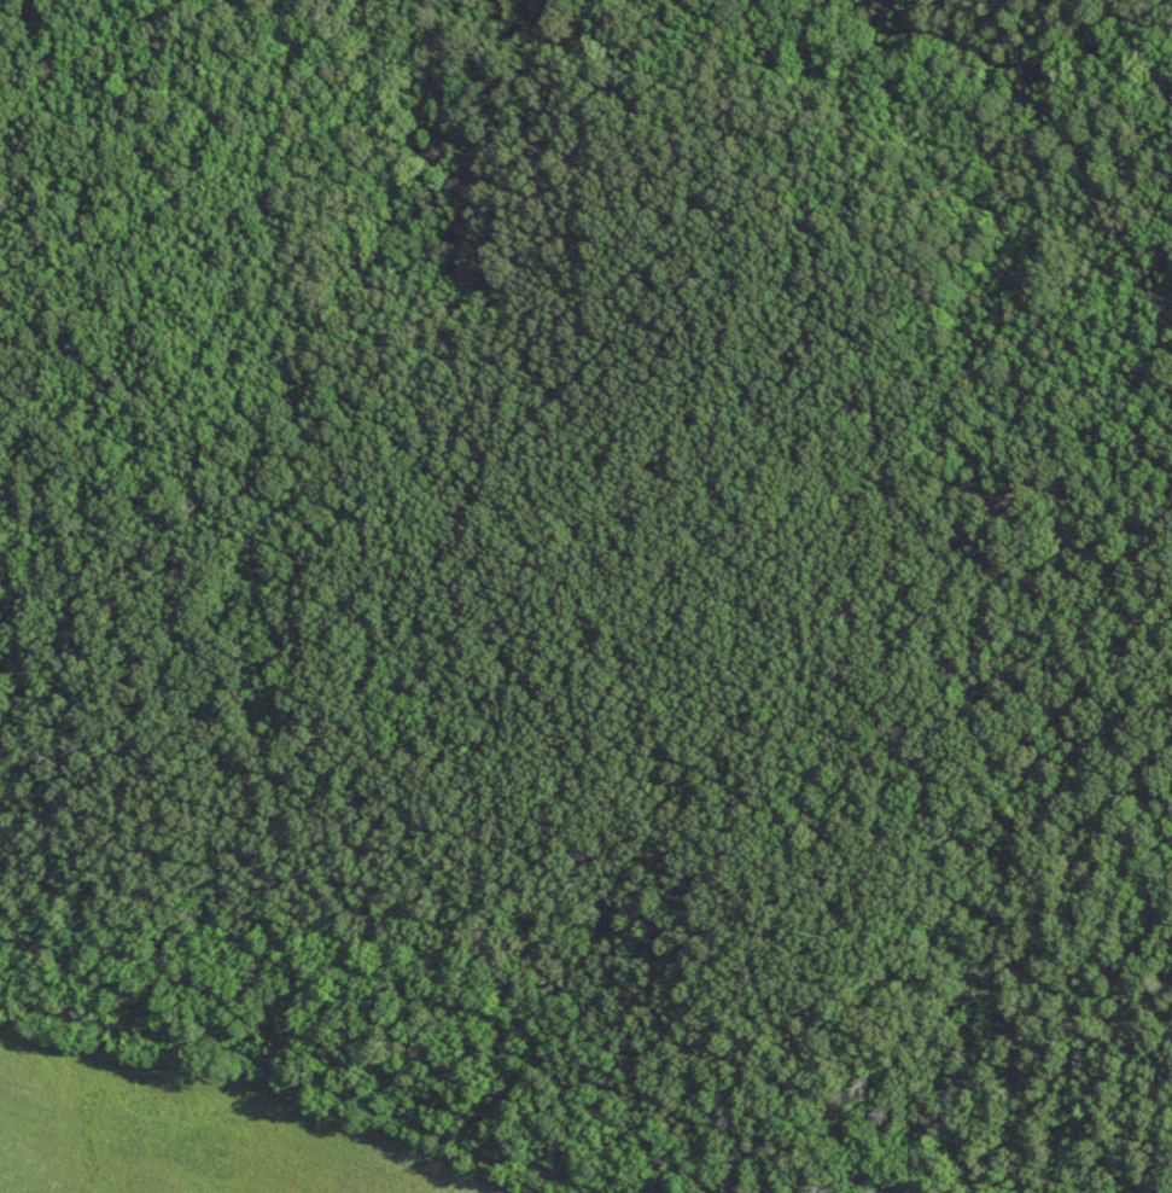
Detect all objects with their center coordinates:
road: (299, 1078)

